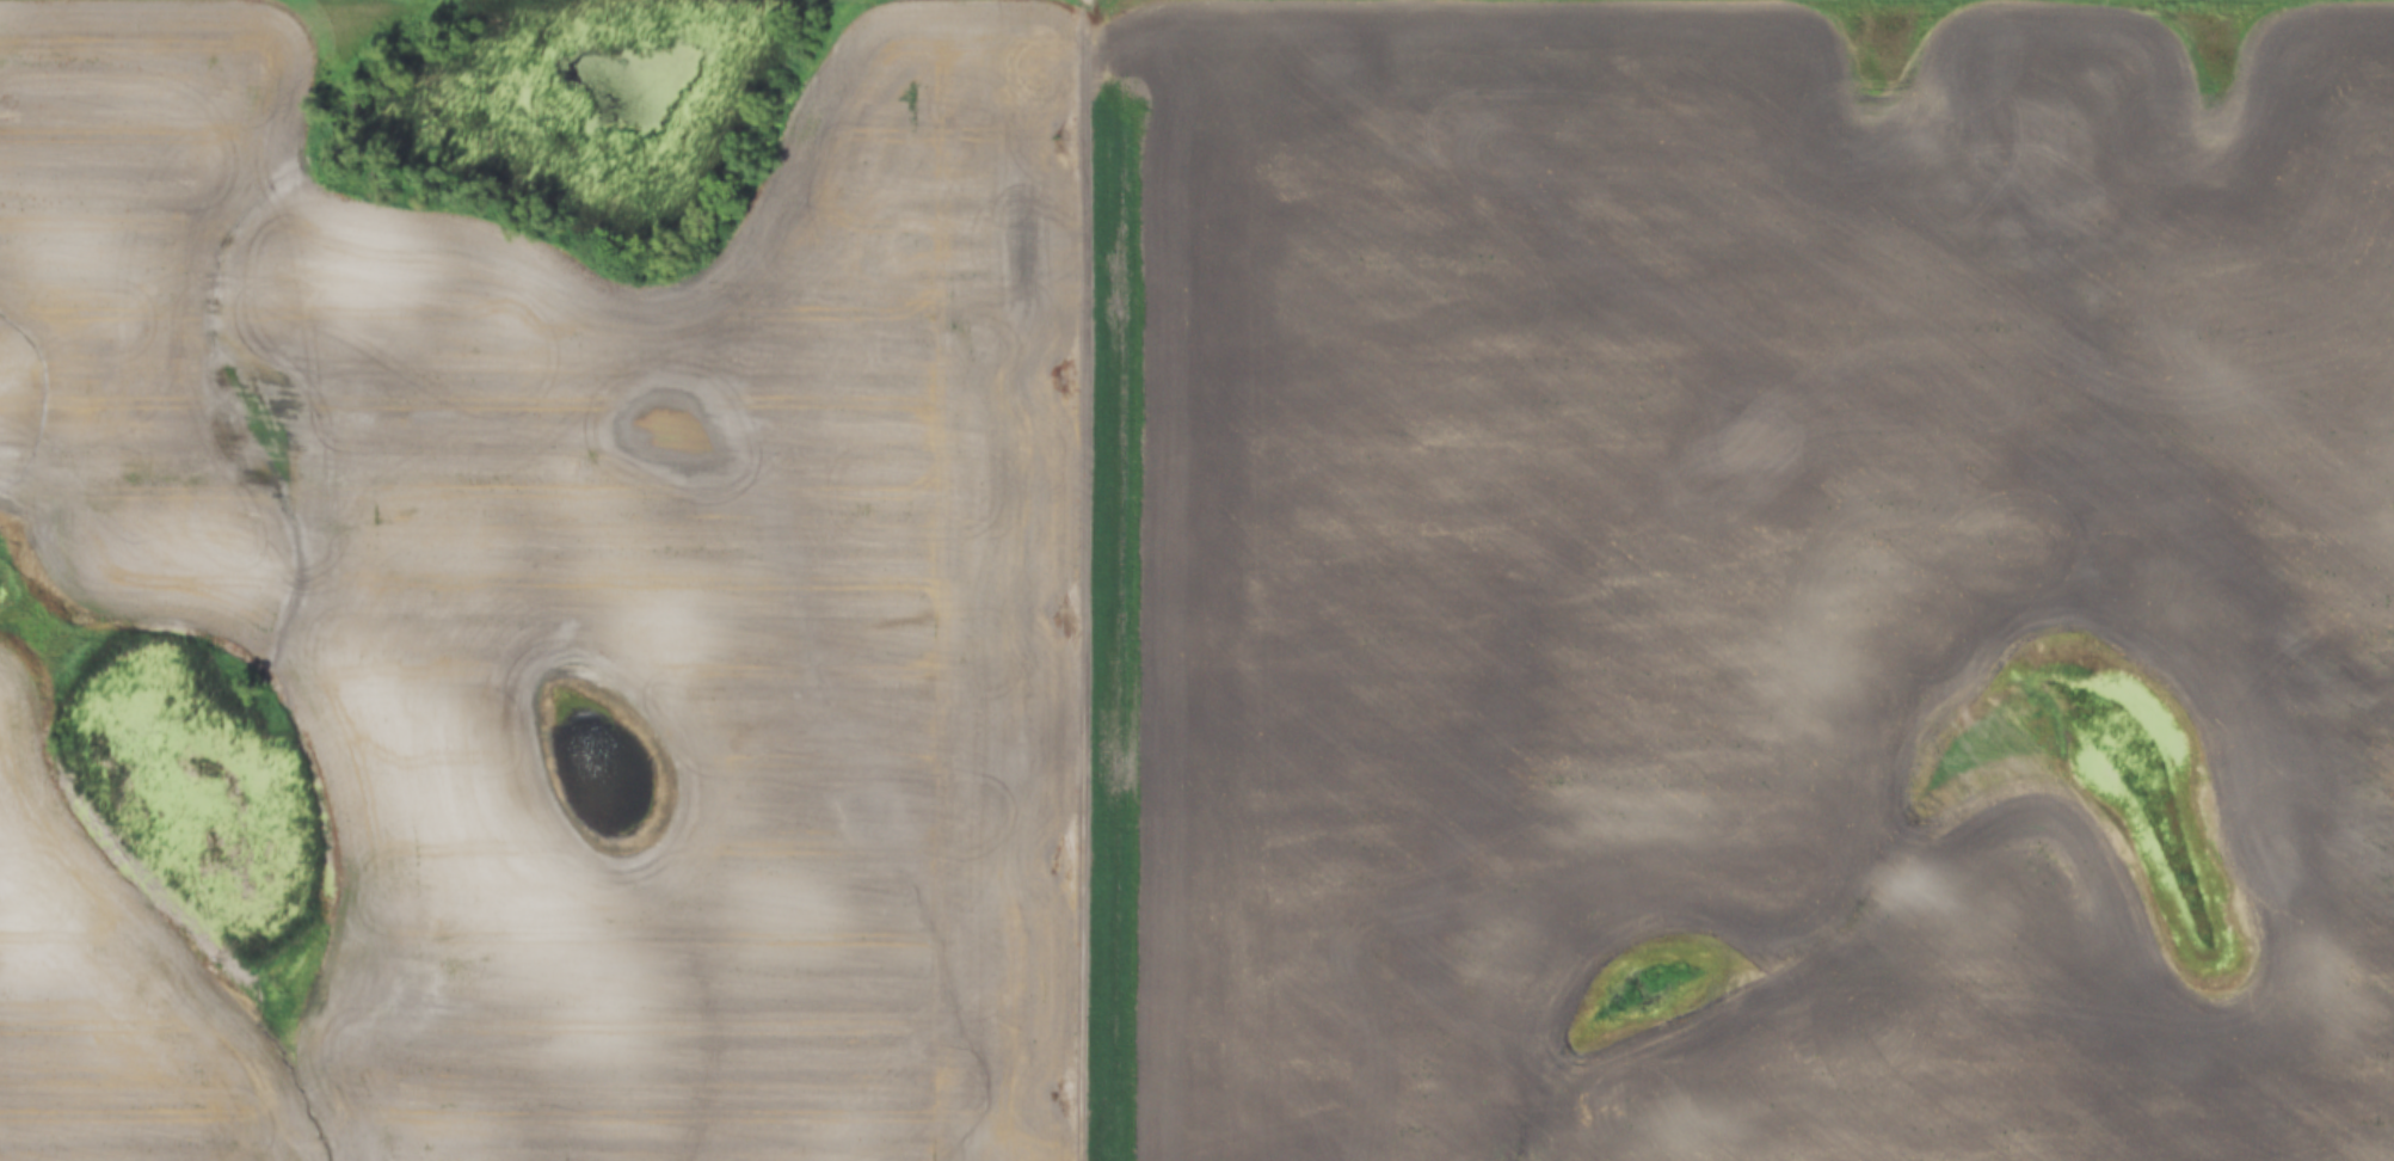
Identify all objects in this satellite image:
road: (1098, 579)

